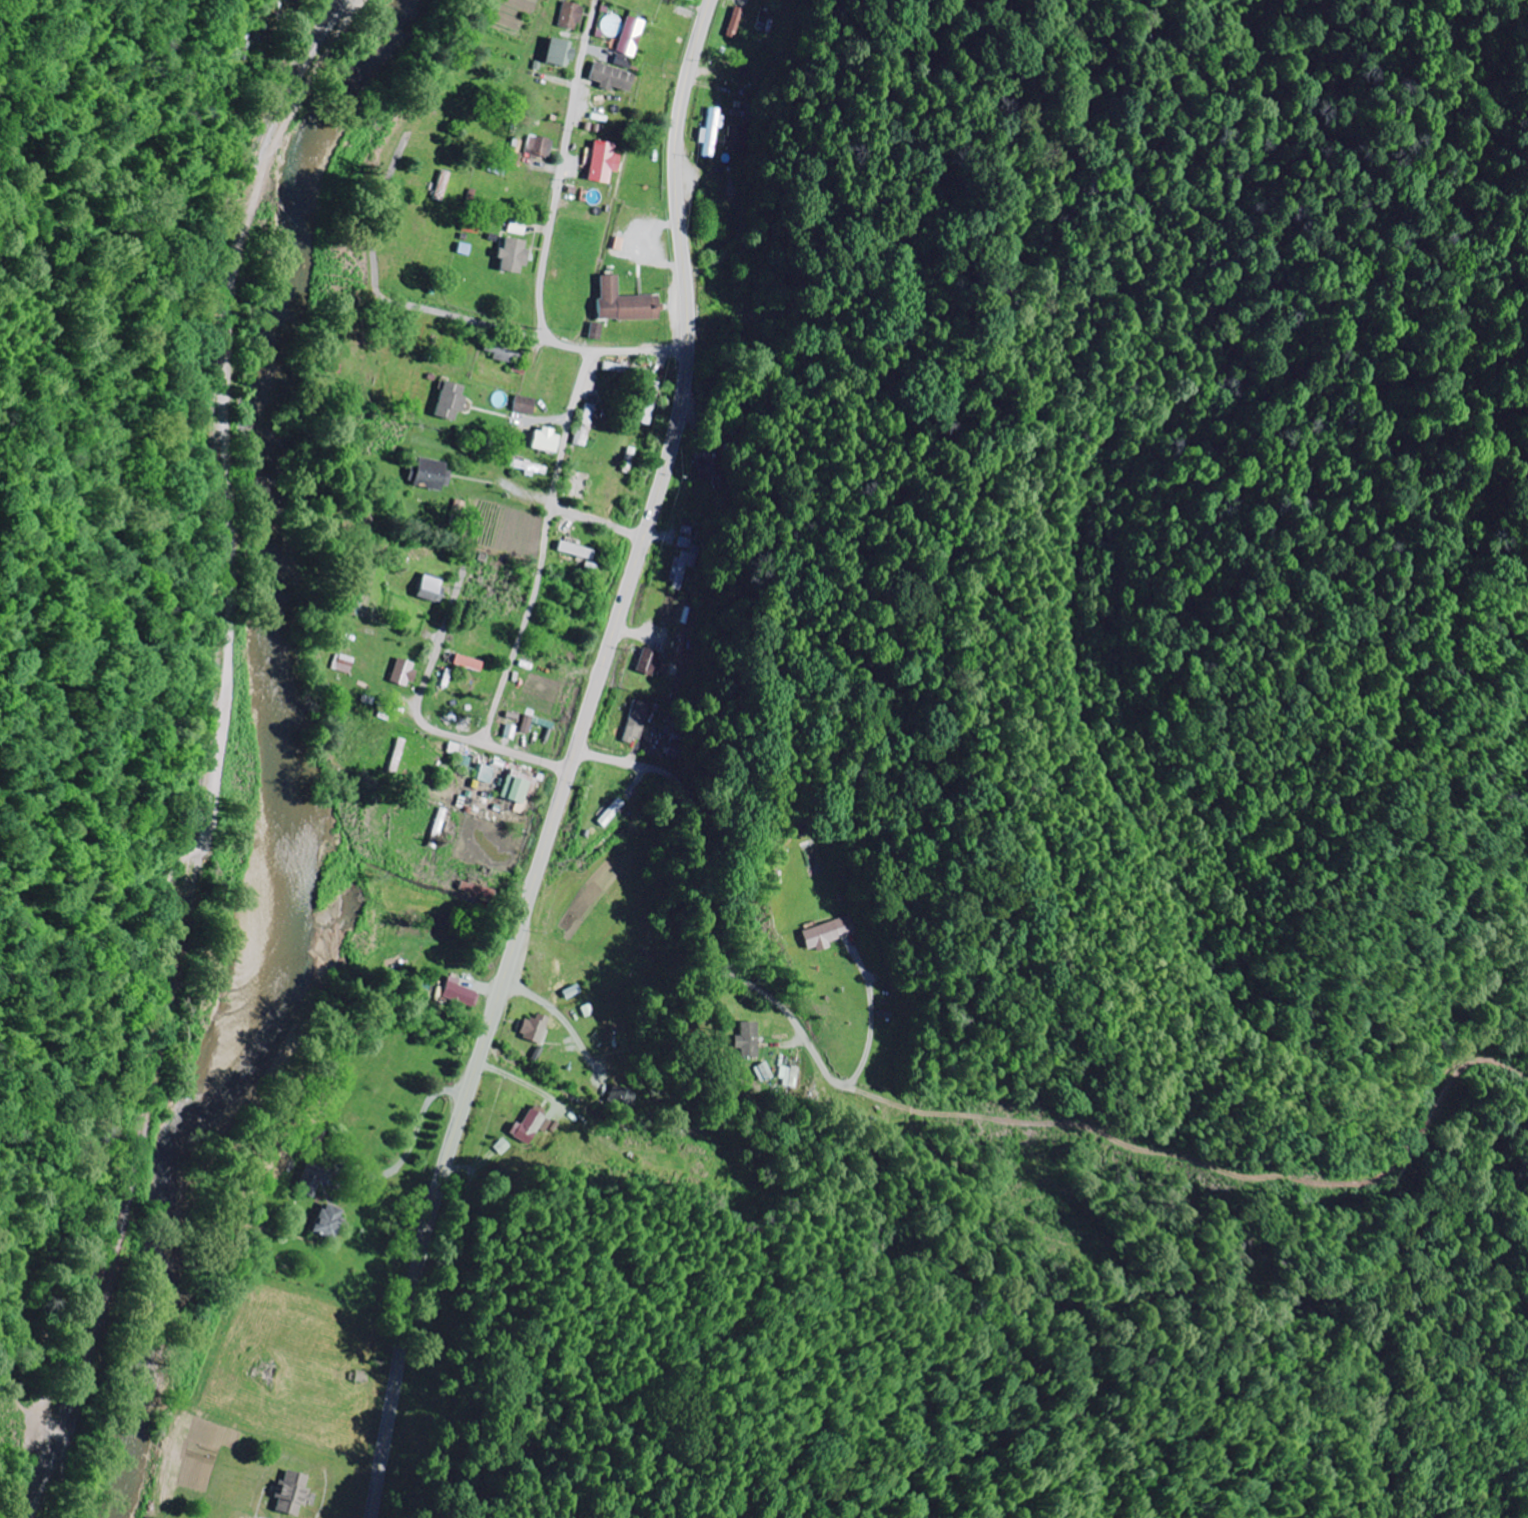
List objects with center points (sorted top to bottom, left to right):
building: (573, 15)
building: (738, 21)
building: (632, 41)
building: (561, 51)
building: (615, 76)
building: (715, 131)
building: (542, 145)
building: (606, 161)
road: (568, 169)
building: (445, 185)
road: (382, 221)
building: (473, 225)
building: (520, 227)
building: (514, 254)
building: (628, 302)
road: (475, 315)
building: (599, 330)
road: (620, 350)
building: (504, 352)
building: (629, 369)
building: (452, 400)
building: (655, 402)
building: (527, 404)
building: (589, 424)
building: (548, 439)
building: (532, 467)
building: (433, 473)
road: (603, 522)
road: (549, 549)
building: (580, 550)
building: (689, 568)
building: (433, 588)
building: (470, 662)
building: (653, 662)
building: (344, 663)
building: (405, 672)
road: (430, 679)
road: (229, 703)
building: (640, 720)
building: (530, 723)
railway: (206, 758)
road: (530, 758)
road: (577, 761)
river: (295, 774)
building: (488, 774)
building: (520, 789)
building: (832, 932)
road: (718, 950)
building: (574, 991)
building: (463, 992)
building: (537, 1028)
building: (747, 1038)
building: (763, 1071)
building: (623, 1096)
building: (530, 1124)
building: (505, 1146)
building: (313, 1179)
building: (329, 1221)
road: (67, 1451)
building: (294, 1493)
road: (63, 1511)

